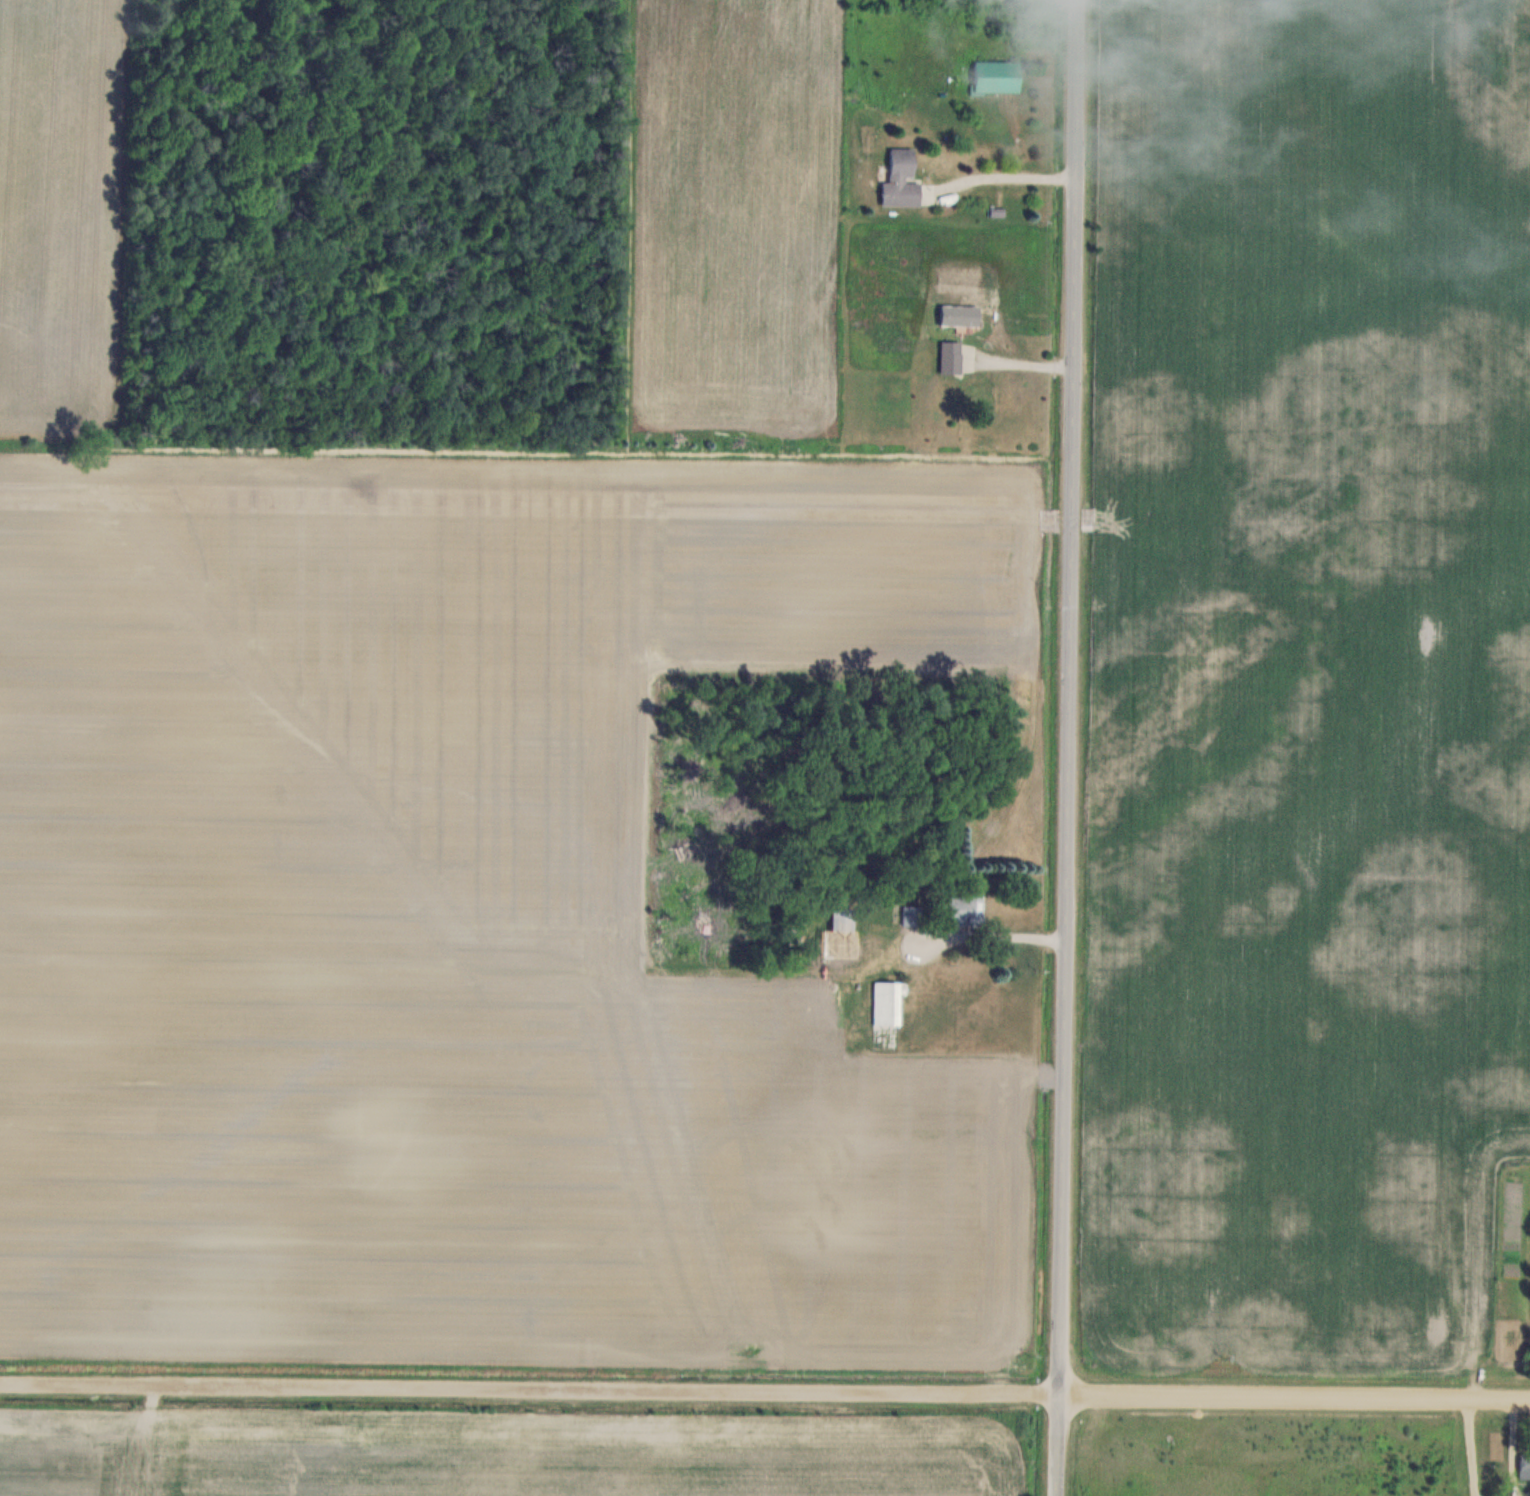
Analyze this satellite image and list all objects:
building: (997, 77)
road: (1007, 175)
building: (902, 179)
building: (952, 357)
road: (1023, 363)
building: (980, 397)
road: (1075, 748)
building: (966, 910)
building: (913, 916)
building: (843, 935)
building: (888, 1004)
road: (764, 1393)
building: (1525, 1463)

